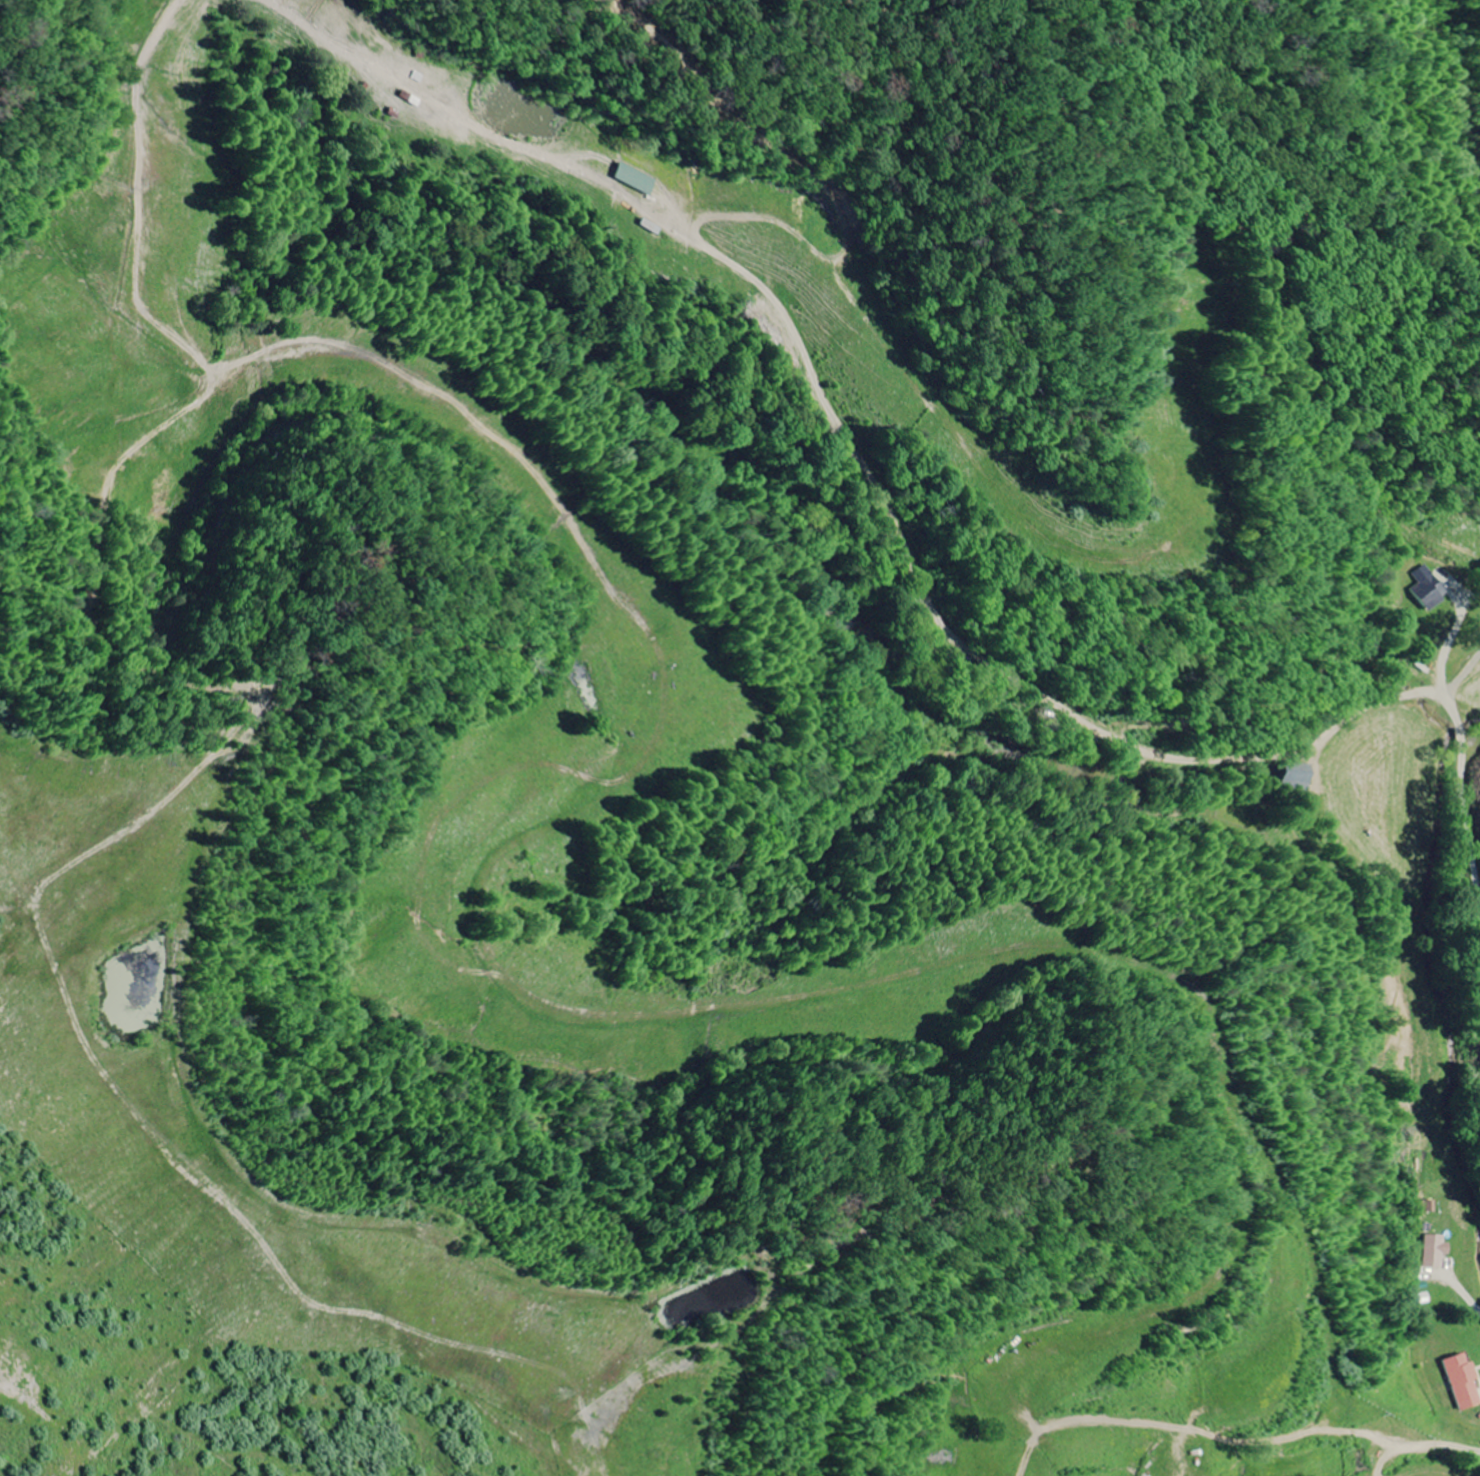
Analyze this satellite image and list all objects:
building: (632, 180)
building: (1428, 590)
road: (1448, 699)
building: (1296, 779)
building: (1426, 1207)
building: (1433, 1251)
building: (1461, 1382)

